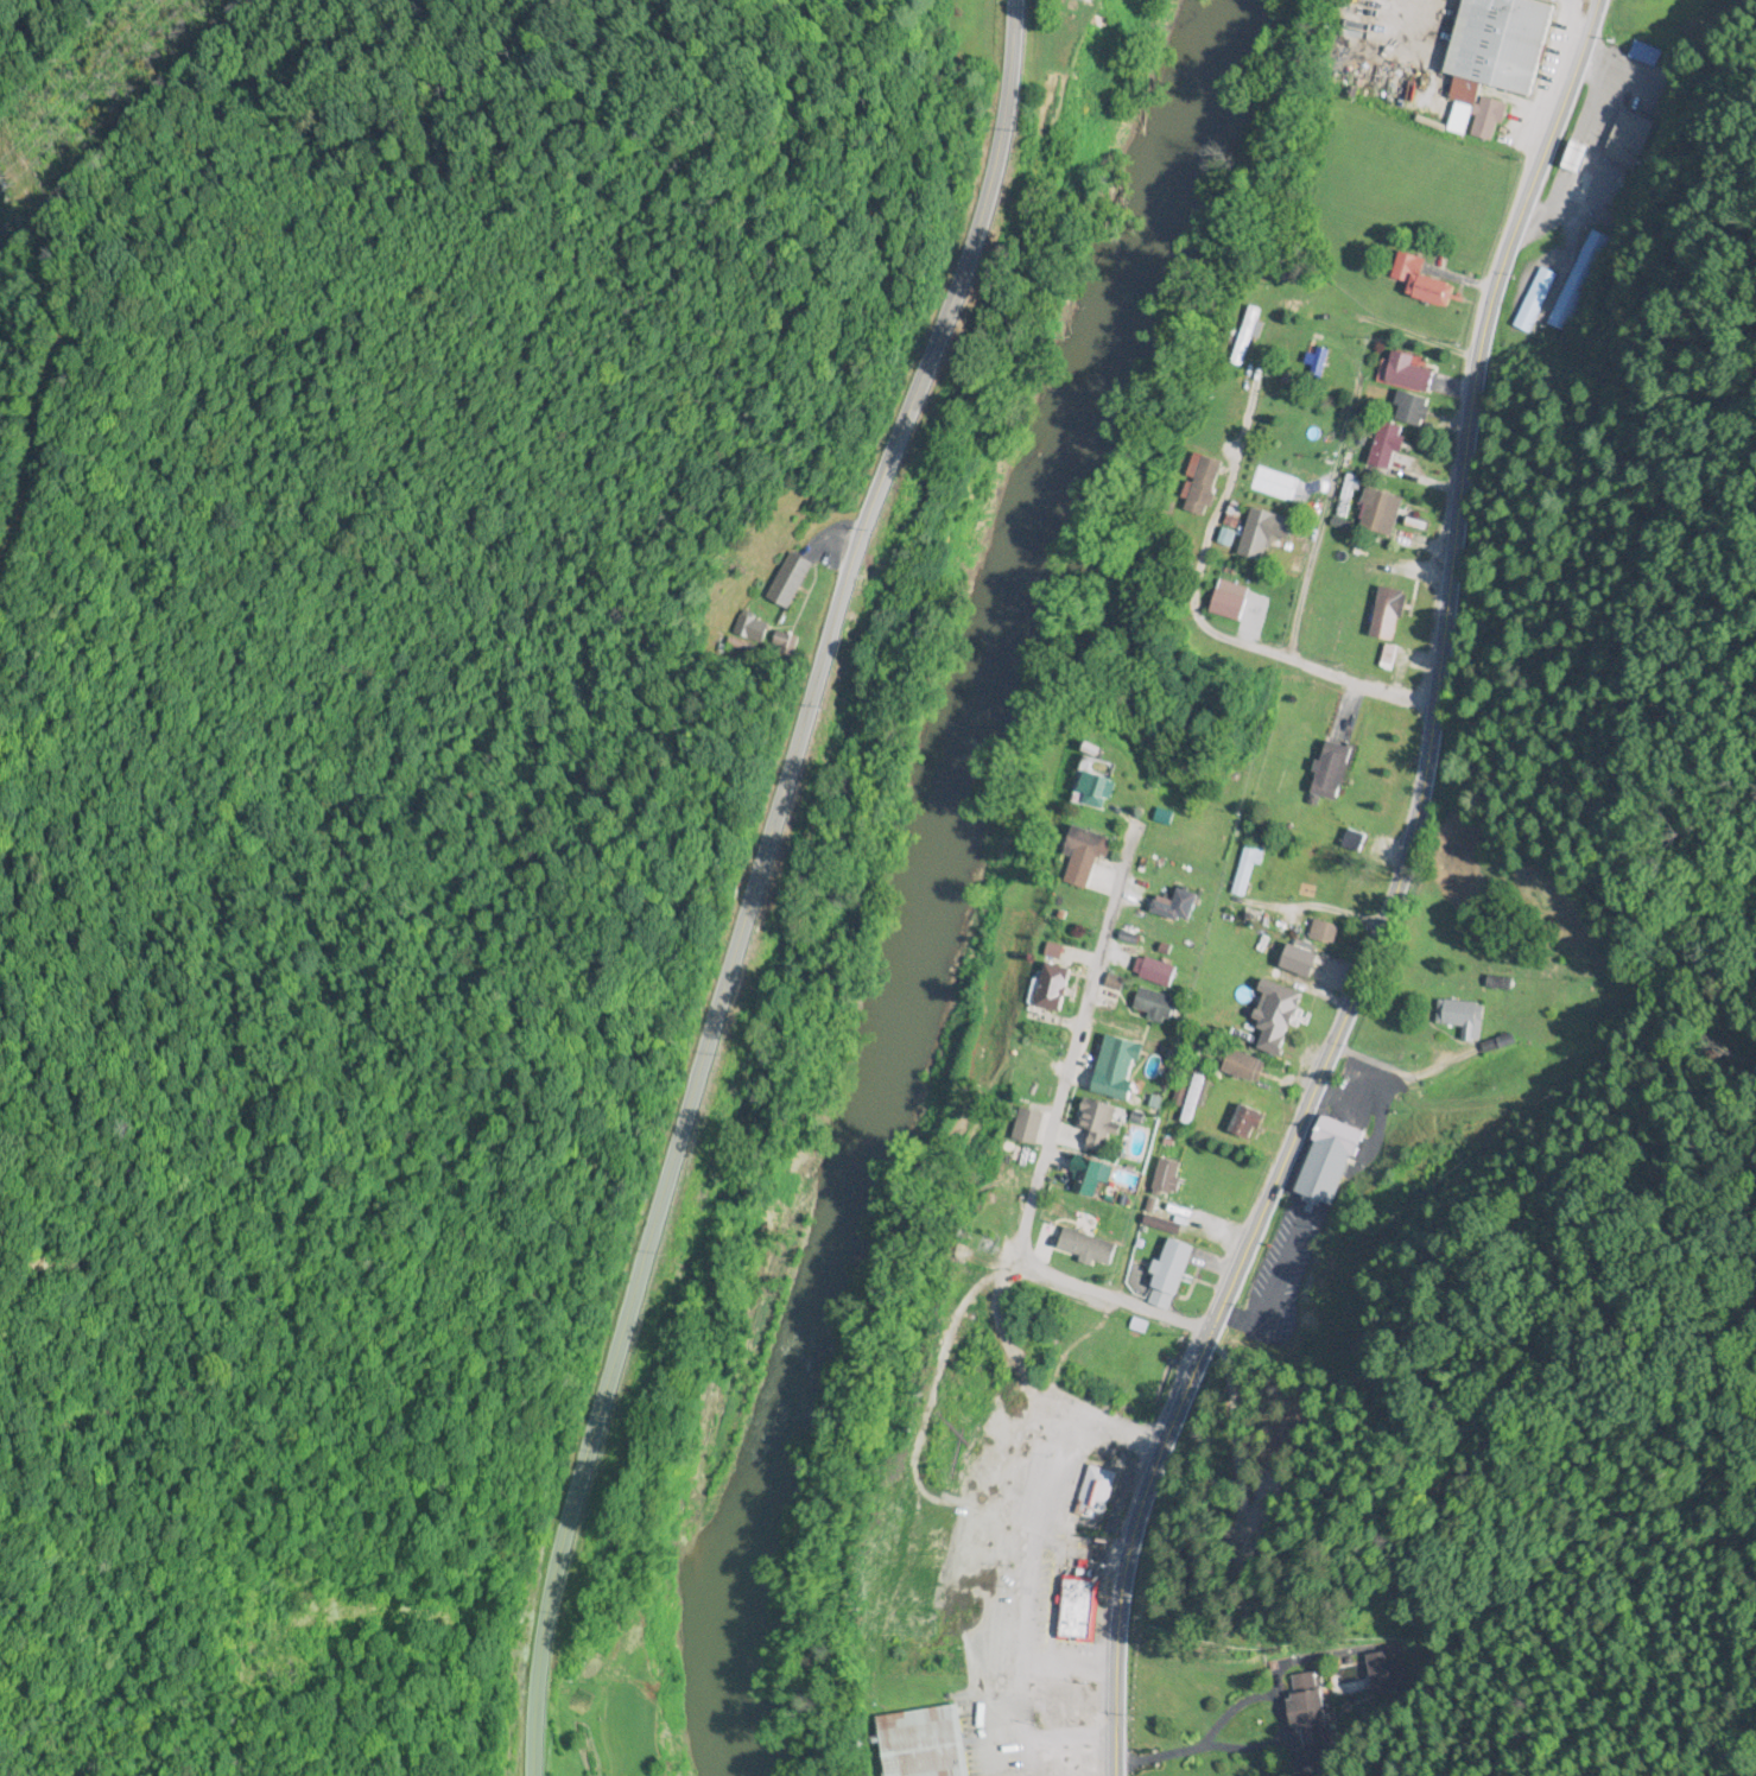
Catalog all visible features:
building: (1084, 0)
building: (1504, 43)
building: (1479, 120)
building: (1627, 141)
power tower: (13, 179)
building: (1424, 281)
building: (1577, 283)
building: (1536, 300)
building: (1247, 337)
building: (1412, 374)
building: (1414, 410)
building: (1389, 446)
building: (1203, 484)
building: (1384, 513)
road: (1292, 532)
building: (1261, 535)
building: (791, 581)
road: (1188, 597)
building: (1390, 614)
building: (1333, 770)
building: (1097, 786)
building: (1355, 842)
building: (1084, 846)
building: (1248, 868)
river: (944, 874)
road: (767, 887)
road: (1387, 899)
building: (1178, 907)
building: (1324, 933)
building: (1302, 962)
building: (1159, 973)
building: (1055, 989)
building: (1155, 1006)
building: (1279, 1017)
building: (1463, 1020)
building: (1247, 1067)
building: (1118, 1070)
building: (1192, 1101)
building: (1248, 1123)
building: (1099, 1125)
road: (1047, 1143)
building: (1329, 1163)
building: (1171, 1176)
building: (1091, 1178)
building: (1164, 1226)
building: (1171, 1275)
building: (1095, 1495)
building: (1077, 1611)
building: (1386, 1674)
building: (1308, 1711)
building: (924, 1744)

